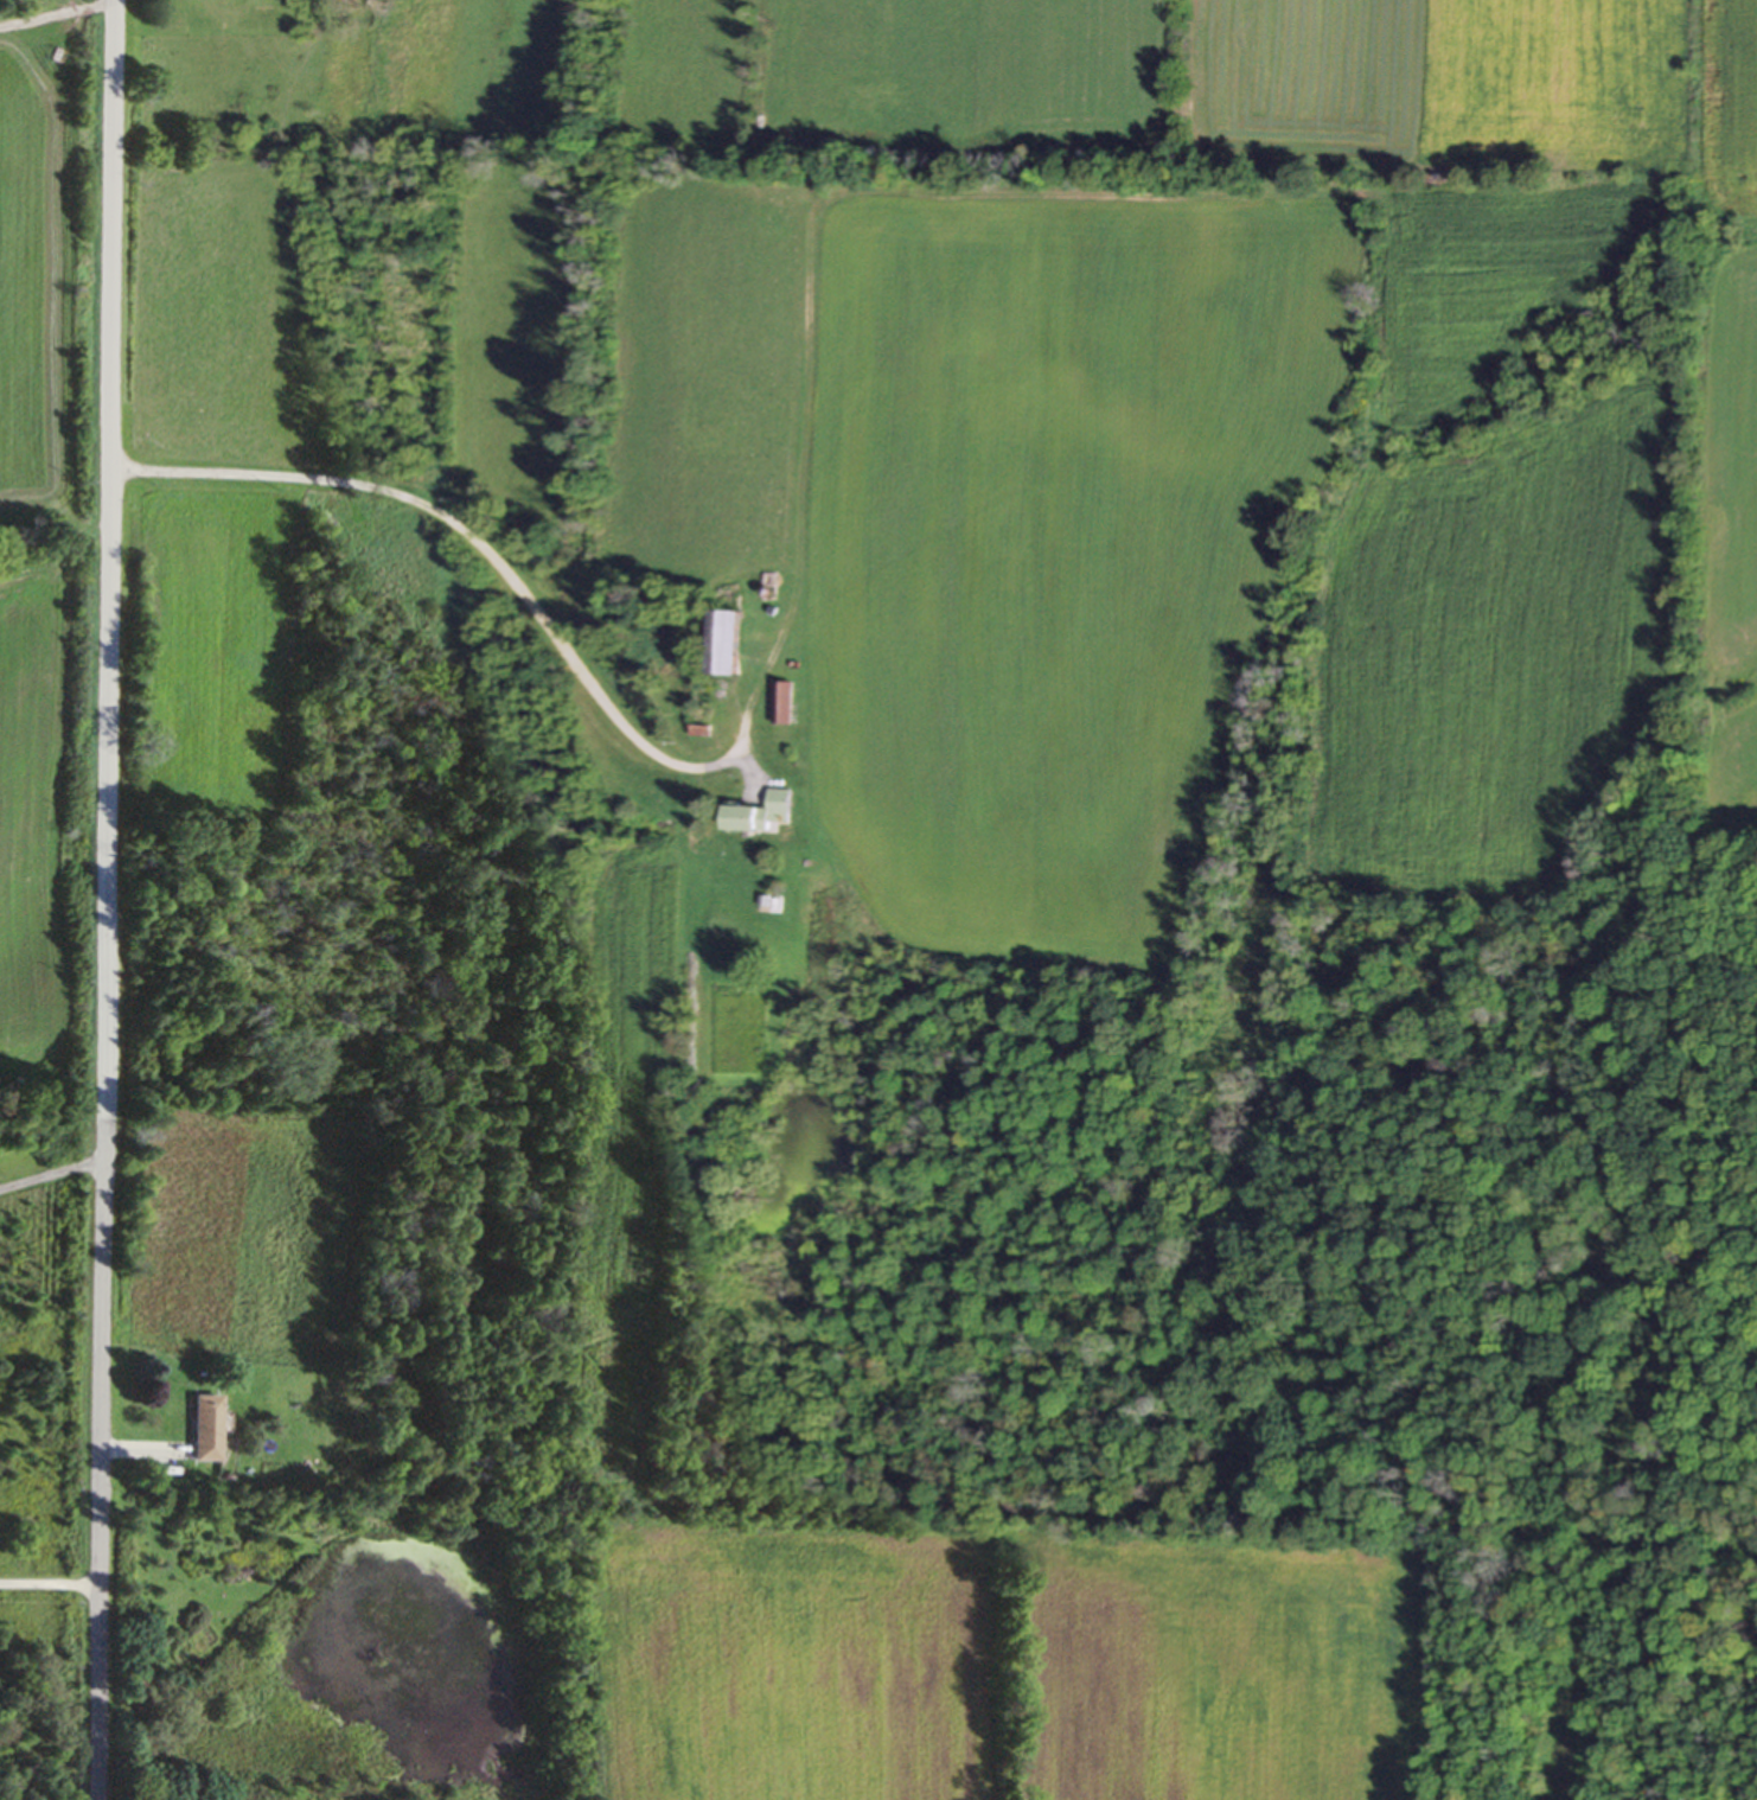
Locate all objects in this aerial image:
building: (718, 644)
building: (778, 703)
building: (696, 707)
road: (625, 730)
building: (754, 815)
road: (108, 899)
road: (53, 1175)
building: (205, 1430)
road: (51, 1587)

